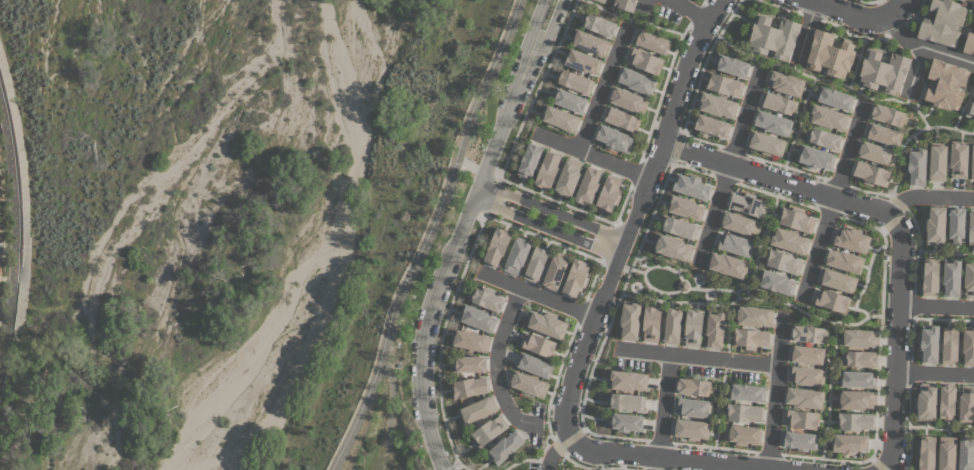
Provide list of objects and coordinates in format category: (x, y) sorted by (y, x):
road: (814, 0)
building: (601, 1)
building: (625, 4)
road: (688, 10)
road: (858, 16)
building: (973, 18)
building: (942, 22)
building: (597, 23)
building: (773, 36)
building: (651, 41)
building: (589, 42)
building: (969, 43)
road: (924, 50)
building: (830, 54)
building: (644, 60)
building: (581, 61)
building: (731, 65)
building: (883, 70)
building: (574, 81)
building: (637, 81)
building: (784, 82)
building: (724, 84)
building: (945, 84)
road: (535, 88)
building: (973, 89)
road: (600, 92)
building: (834, 98)
building: (568, 99)
building: (628, 100)
building: (777, 103)
building: (717, 104)
building: (970, 109)
building: (888, 115)
building: (827, 117)
building: (559, 118)
building: (621, 118)
road: (741, 119)
building: (773, 122)
building: (710, 125)
building: (883, 134)
building: (823, 137)
building: (614, 138)
building: (765, 143)
road: (846, 152)
building: (877, 153)
building: (815, 157)
road: (596, 158)
building: (959, 158)
building: (529, 160)
building: (938, 161)
building: (972, 161)
road: (469, 165)
building: (916, 165)
building: (547, 169)
building: (871, 173)
building: (568, 177)
building: (690, 185)
building: (588, 186)
building: (609, 193)
road: (924, 198)
building: (747, 203)
building: (685, 207)
road: (553, 211)
road: (639, 211)
road: (710, 215)
building: (796, 219)
building: (740, 223)
building: (956, 224)
building: (935, 225)
building: (679, 226)
building: (971, 227)
road: (462, 228)
road: (547, 229)
road: (12, 230)
road: (893, 230)
road: (426, 235)
building: (850, 239)
building: (788, 240)
building: (734, 243)
building: (497, 246)
road: (815, 246)
building: (672, 247)
building: (517, 255)
building: (844, 260)
building: (782, 261)
building: (537, 263)
building: (728, 265)
building: (555, 271)
building: (930, 276)
building: (575, 277)
building: (952, 277)
building: (969, 278)
building: (837, 280)
building: (776, 282)
road: (540, 294)
building: (486, 298)
building: (831, 299)
road: (936, 305)
building: (753, 316)
building: (477, 317)
building: (629, 320)
building: (651, 322)
building: (547, 323)
building: (672, 325)
building: (693, 326)
building: (714, 328)
building: (808, 334)
building: (750, 337)
building: (859, 337)
building: (470, 340)
building: (929, 343)
building: (538, 344)
building: (950, 345)
building: (968, 345)
road: (439, 347)
building: (807, 354)
road: (696, 357)
building: (859, 358)
building: (469, 363)
road: (497, 363)
building: (534, 365)
building: (806, 375)
road: (935, 375)
building: (857, 379)
building: (627, 380)
building: (528, 384)
building: (469, 387)
building: (693, 387)
building: (746, 392)
road: (774, 394)
building: (804, 397)
building: (856, 399)
building: (626, 401)
building: (947, 401)
building: (926, 402)
building: (966, 404)
road: (663, 405)
building: (692, 407)
building: (477, 409)
building: (742, 412)
building: (801, 419)
building: (625, 421)
building: (855, 421)
building: (690, 428)
building: (489, 430)
building: (742, 434)
building: (798, 440)
building: (849, 443)
building: (505, 447)
building: (926, 452)
building: (947, 453)
building: (966, 454)
road: (668, 458)
road: (438, 463)
road: (657, 463)
road: (453, 466)
road: (892, 467)
road: (765, 469)

